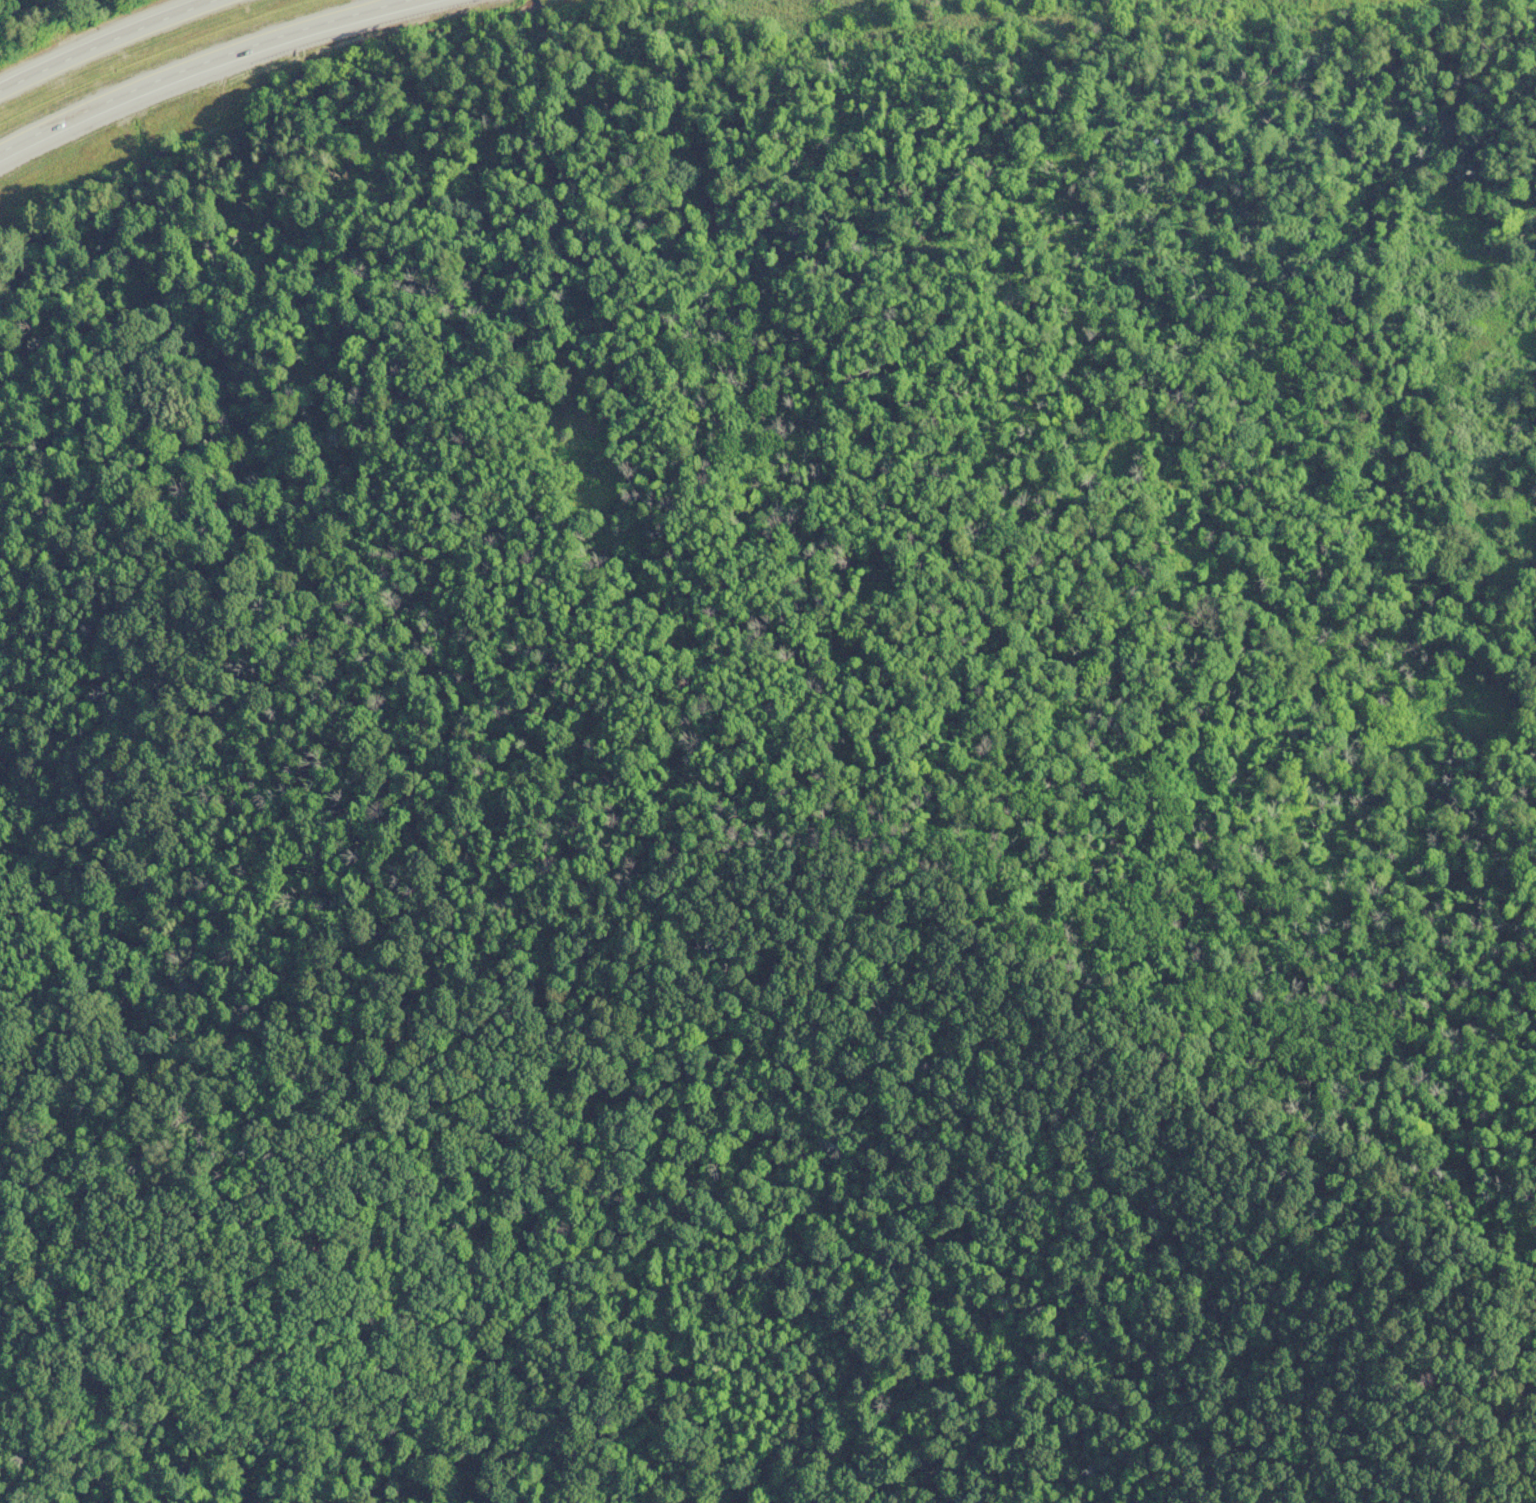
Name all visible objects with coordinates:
road: (101, 40)
road: (192, 63)

